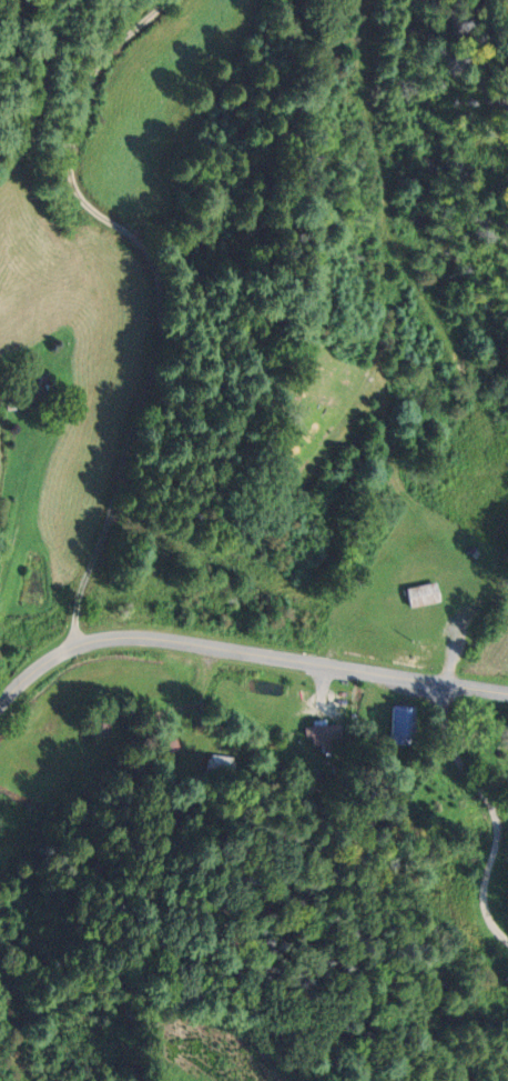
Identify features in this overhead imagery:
road: (154, 289)
road: (200, 306)
building: (35, 391)
building: (421, 595)
road: (289, 662)
road: (35, 668)
building: (400, 727)
building: (319, 740)
building: (222, 768)
road: (492, 810)

